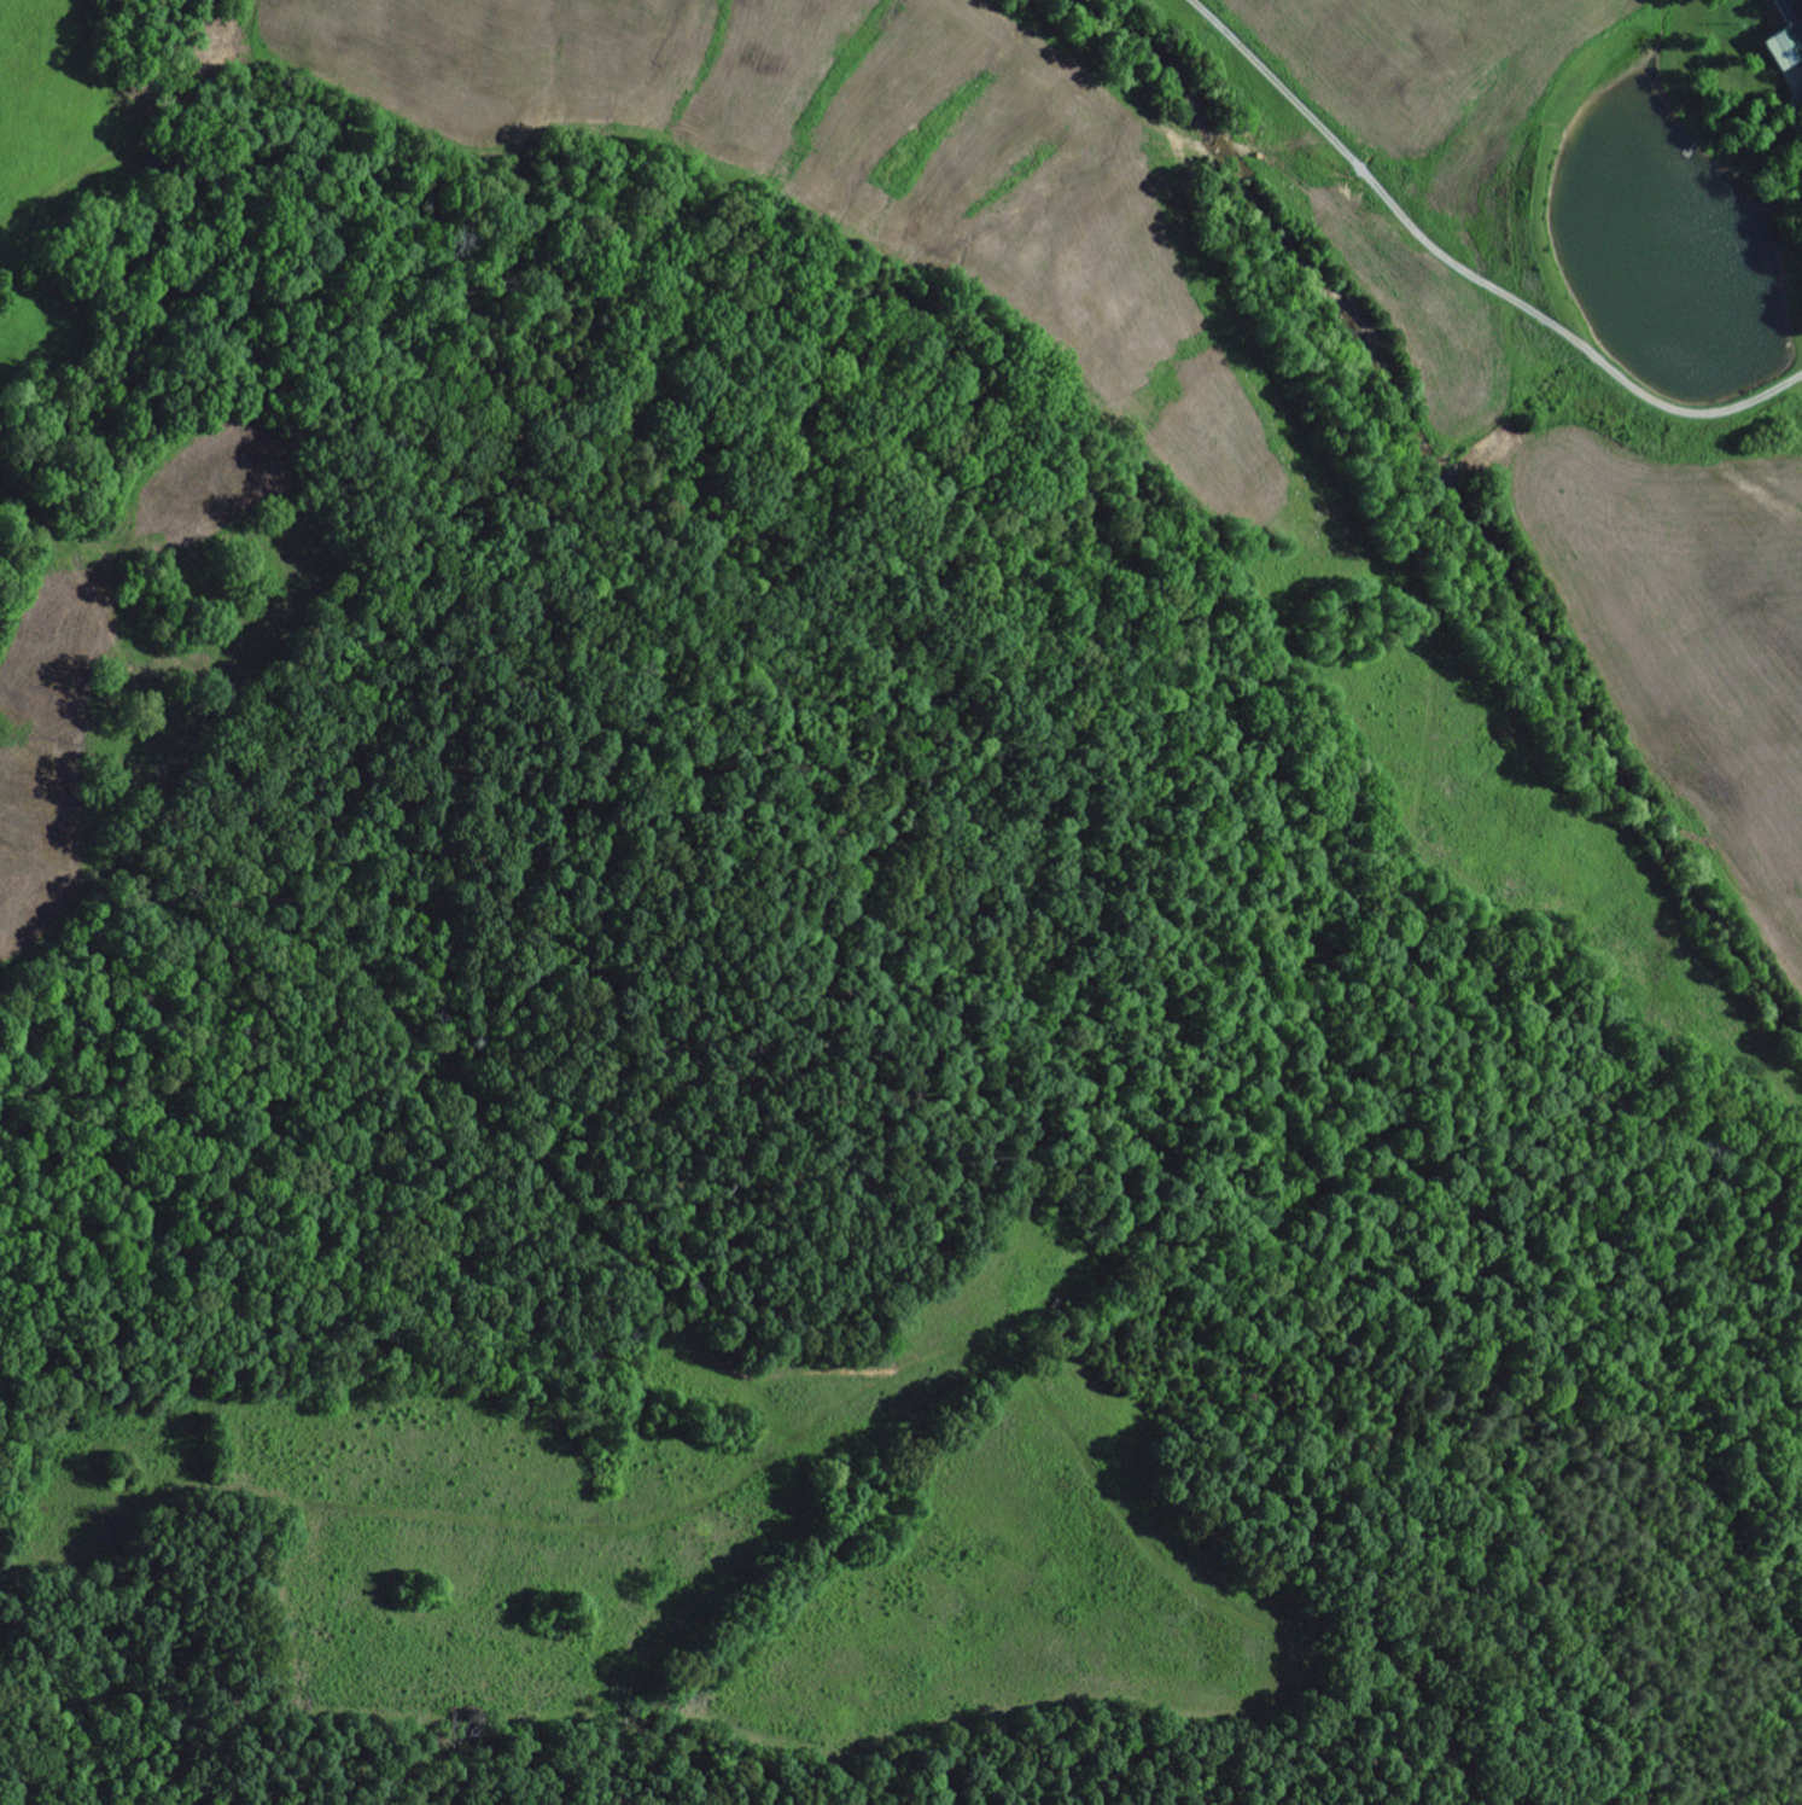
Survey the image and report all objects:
building: (1781, 48)
road: (1469, 270)

